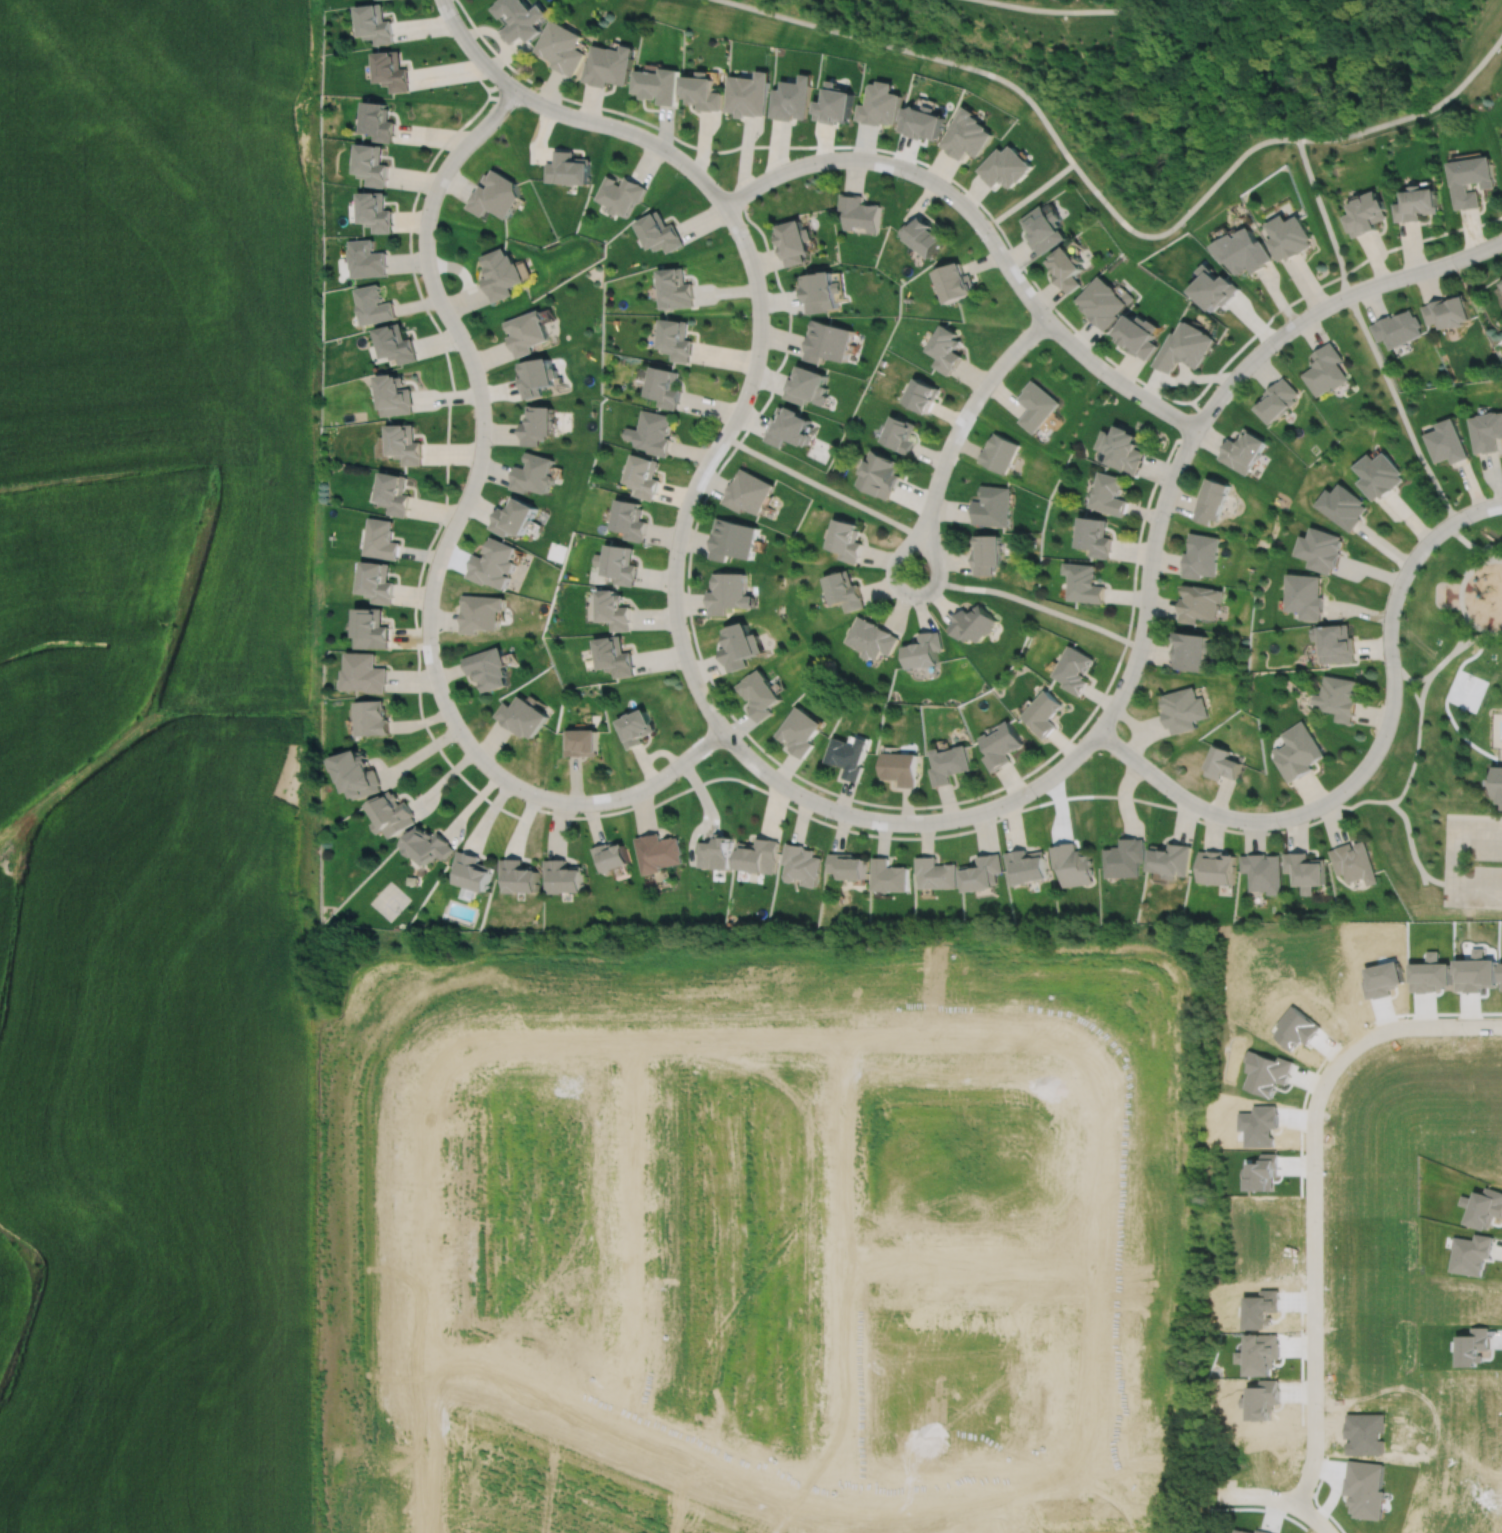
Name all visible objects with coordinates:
road: (1063, 10)
street lamp: (463, 18)
building: (517, 19)
building: (372, 24)
building: (560, 48)
building: (607, 66)
building: (389, 71)
building: (656, 85)
building: (701, 93)
building: (747, 95)
building: (791, 100)
building: (881, 101)
street lamp: (525, 106)
building: (835, 106)
road: (573, 115)
building: (377, 118)
street lamp: (621, 118)
building: (923, 119)
building: (968, 132)
street lamp: (803, 153)
building: (370, 161)
building: (1006, 164)
building: (567, 166)
street lamp: (682, 174)
street lamp: (903, 178)
building: (1468, 181)
road: (1032, 191)
building: (620, 192)
building: (494, 193)
street lamp: (421, 195)
building: (1414, 207)
building: (375, 209)
building: (859, 210)
road: (1114, 214)
building: (1364, 216)
building: (1044, 226)
road: (983, 229)
building: (659, 230)
street lamp: (997, 231)
street lamp: (749, 232)
building: (923, 233)
building: (1291, 234)
building: (794, 239)
building: (1245, 249)
building: (365, 257)
building: (1066, 266)
road: (1353, 267)
street lamp: (1456, 269)
building: (500, 272)
street lamp: (417, 273)
street lamp: (1367, 276)
building: (955, 280)
building: (675, 286)
building: (1216, 286)
building: (821, 289)
road: (1045, 298)
building: (1104, 300)
building: (372, 303)
building: (1448, 310)
street lamp: (1053, 311)
street lamp: (749, 314)
building: (1398, 326)
building: (526, 330)
building: (1138, 335)
building: (676, 338)
building: (827, 340)
building: (395, 342)
building: (1185, 345)
building: (946, 347)
street lamp: (455, 350)
street lamp: (1275, 351)
building: (1326, 369)
building: (537, 375)
building: (807, 384)
building: (664, 386)
street lamp: (758, 391)
street lamp: (966, 392)
building: (923, 393)
building: (393, 394)
street lamp: (1203, 399)
building: (1277, 399)
building: (1037, 404)
road: (968, 407)
building: (537, 423)
building: (789, 426)
building: (652, 431)
building: (1488, 431)
building: (899, 433)
building: (1448, 441)
building: (404, 443)
street lamp: (490, 444)
building: (1124, 448)
building: (1242, 449)
building: (1000, 452)
street lamp: (691, 468)
building: (533, 473)
building: (879, 473)
building: (1380, 474)
building: (643, 476)
road: (818, 484)
building: (749, 491)
building: (393, 492)
building: (1110, 493)
building: (1211, 500)
building: (993, 505)
building: (1344, 505)
building: (514, 516)
street lamp: (913, 516)
building: (630, 519)
street lamp: (1168, 519)
street lamp: (1472, 523)
street lamp: (440, 527)
building: (1096, 536)
building: (381, 538)
building: (732, 539)
building: (846, 540)
road: (442, 544)
building: (1321, 549)
road: (1483, 550)
road: (898, 551)
building: (987, 553)
building: (1200, 555)
street lamp: (685, 559)
building: (493, 563)
building: (618, 563)
street lamp: (1396, 566)
building: (377, 582)
building: (1086, 582)
building: (844, 590)
building: (728, 593)
building: (1305, 595)
road: (1459, 595)
building: (1198, 603)
road: (1038, 604)
street lamp: (910, 605)
building: (613, 610)
building: (480, 612)
building: (974, 623)
street lamp: (1133, 623)
building: (373, 629)
road: (1461, 632)
building: (870, 638)
building: (1335, 643)
street lamp: (439, 644)
building: (739, 647)
building: (923, 650)
building: (1190, 651)
building: (614, 656)
road: (1442, 660)
street lamp: (1402, 661)
building: (487, 668)
building: (1074, 670)
street lamp: (678, 672)
building: (366, 673)
road: (1419, 677)
building: (758, 695)
building: (1339, 697)
building: (1183, 710)
building: (1042, 712)
street lamp: (1095, 715)
building: (522, 717)
building: (373, 718)
building: (636, 729)
building: (798, 732)
road: (1418, 732)
park: (1446, 734)
building: (581, 743)
street lamp: (456, 744)
street lamp: (748, 744)
building: (1001, 744)
street lamp: (1364, 747)
building: (1298, 752)
building: (848, 757)
road: (1369, 760)
building: (1223, 764)
building: (950, 765)
street lamp: (1158, 766)
building: (900, 768)
building: (355, 769)
street lamp: (677, 777)
road: (805, 780)
building: (1497, 785)
street lamp: (544, 786)
road: (669, 795)
street lamp: (1036, 797)
street lamp: (929, 810)
building: (390, 811)
road: (974, 811)
street lamp: (832, 819)
street lamp: (1280, 827)
road: (1453, 836)
building: (426, 842)
building: (656, 849)
building: (714, 850)
building: (758, 852)
building: (608, 853)
building: (1124, 855)
building: (1170, 857)
building: (1355, 860)
building: (801, 861)
parking lot: (1451, 861)
building: (1072, 862)
building: (847, 863)
building: (1025, 864)
building: (1216, 865)
building: (470, 868)
building: (1305, 868)
building: (1262, 869)
building: (935, 870)
building: (982, 870)
building: (517, 873)
building: (888, 873)
building: (561, 874)
road: (1476, 885)
road: (1419, 1025)
road: (760, 1035)
road: (632, 1226)
road: (839, 1262)
road: (965, 1263)
road: (1090, 1272)
road: (1313, 1275)
road: (431, 1298)
road: (376, 1458)
road: (816, 1489)
road: (1283, 1500)

